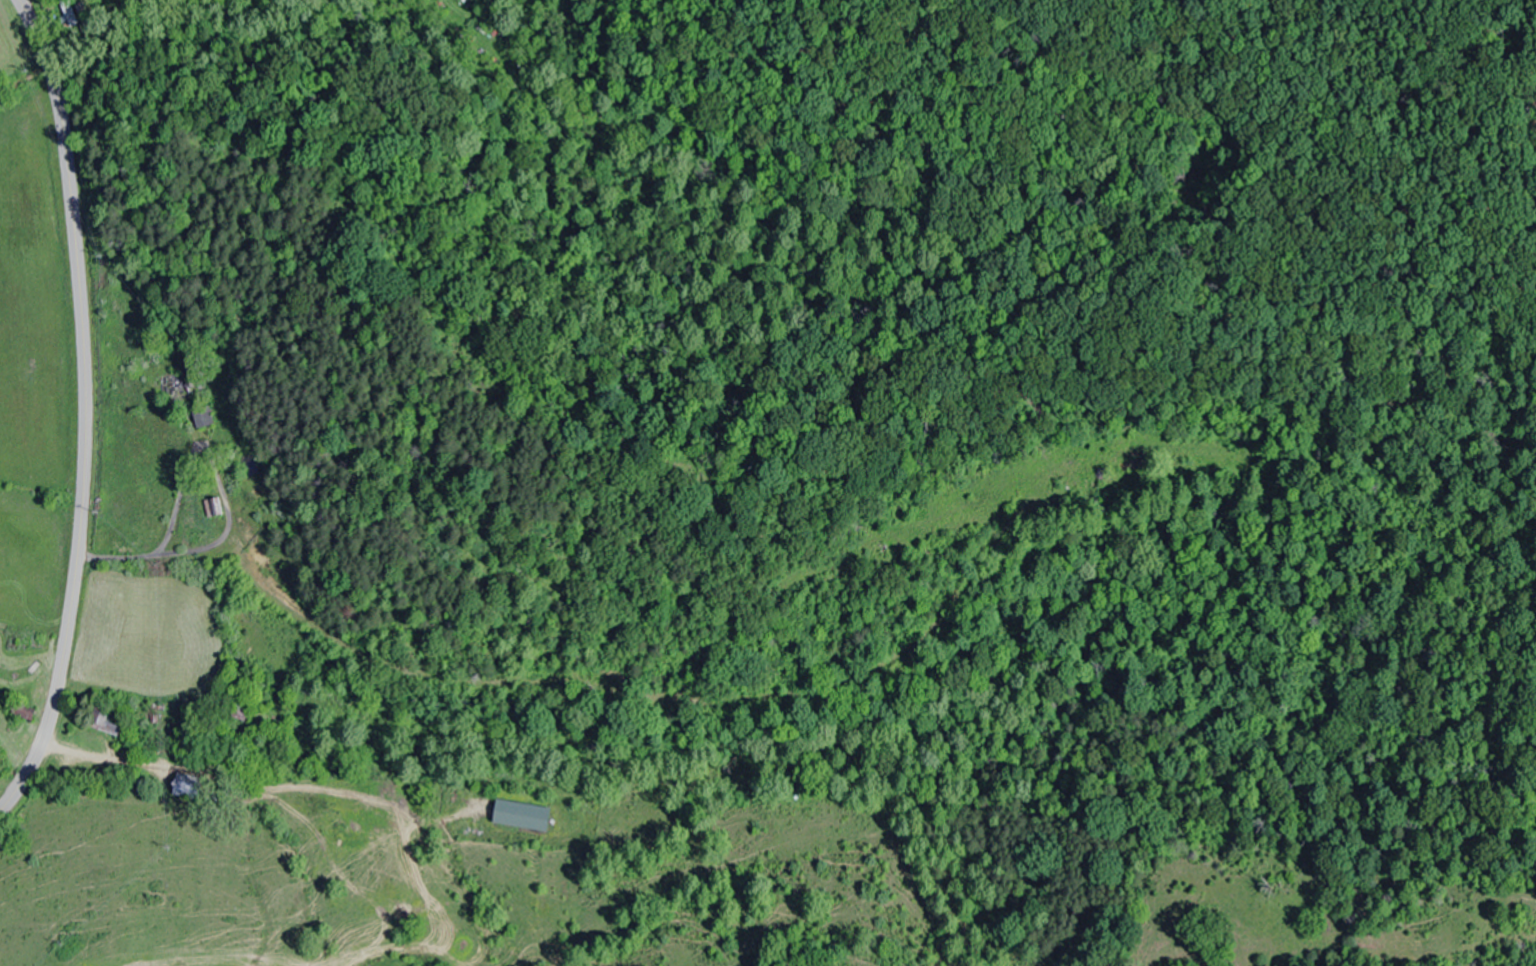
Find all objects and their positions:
building: (70, 11)
building: (174, 388)
road: (84, 406)
building: (202, 418)
building: (213, 506)
building: (241, 707)
building: (109, 722)
building: (185, 786)
building: (519, 815)

